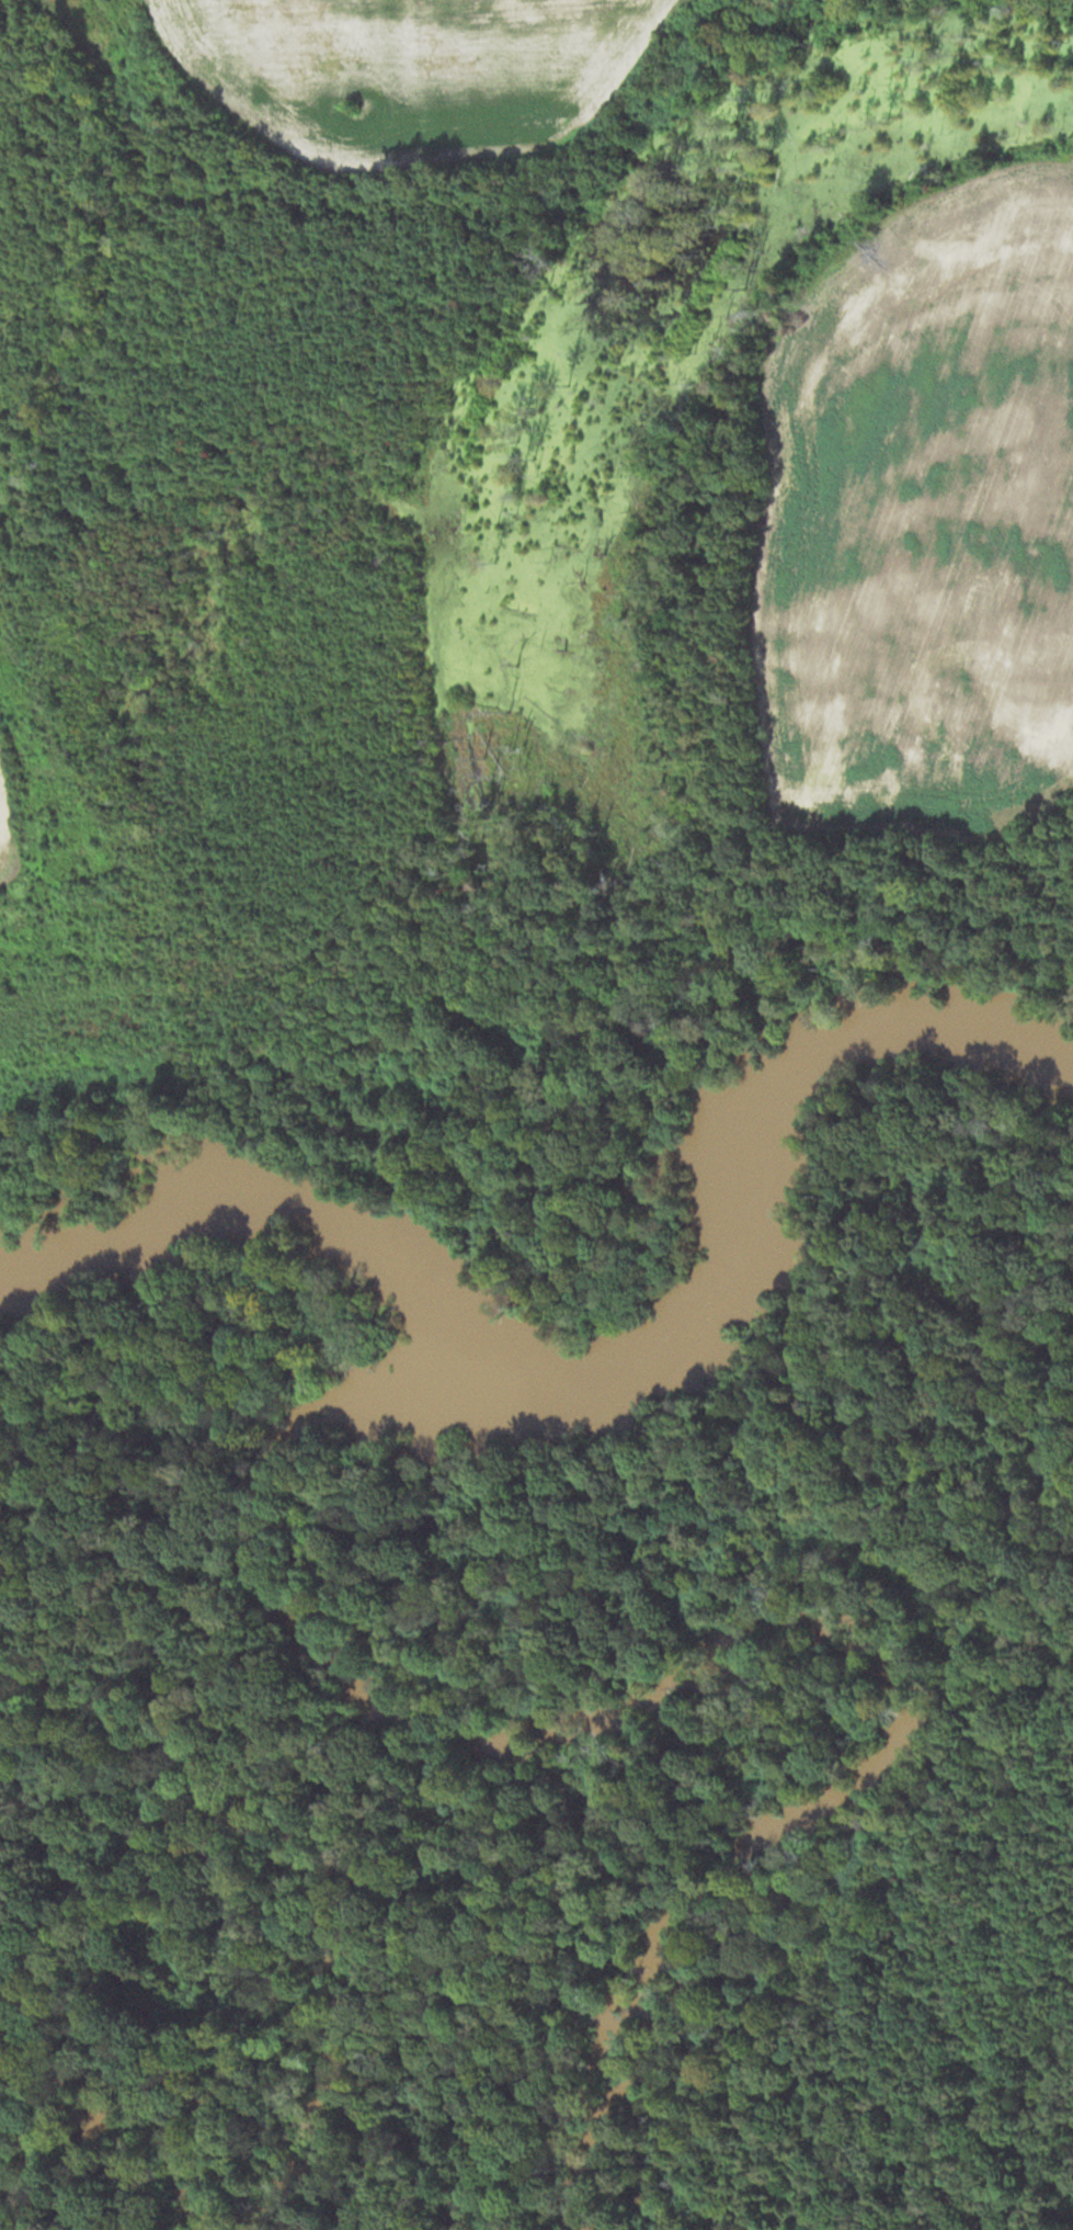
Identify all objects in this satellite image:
river: (580, 1380)

